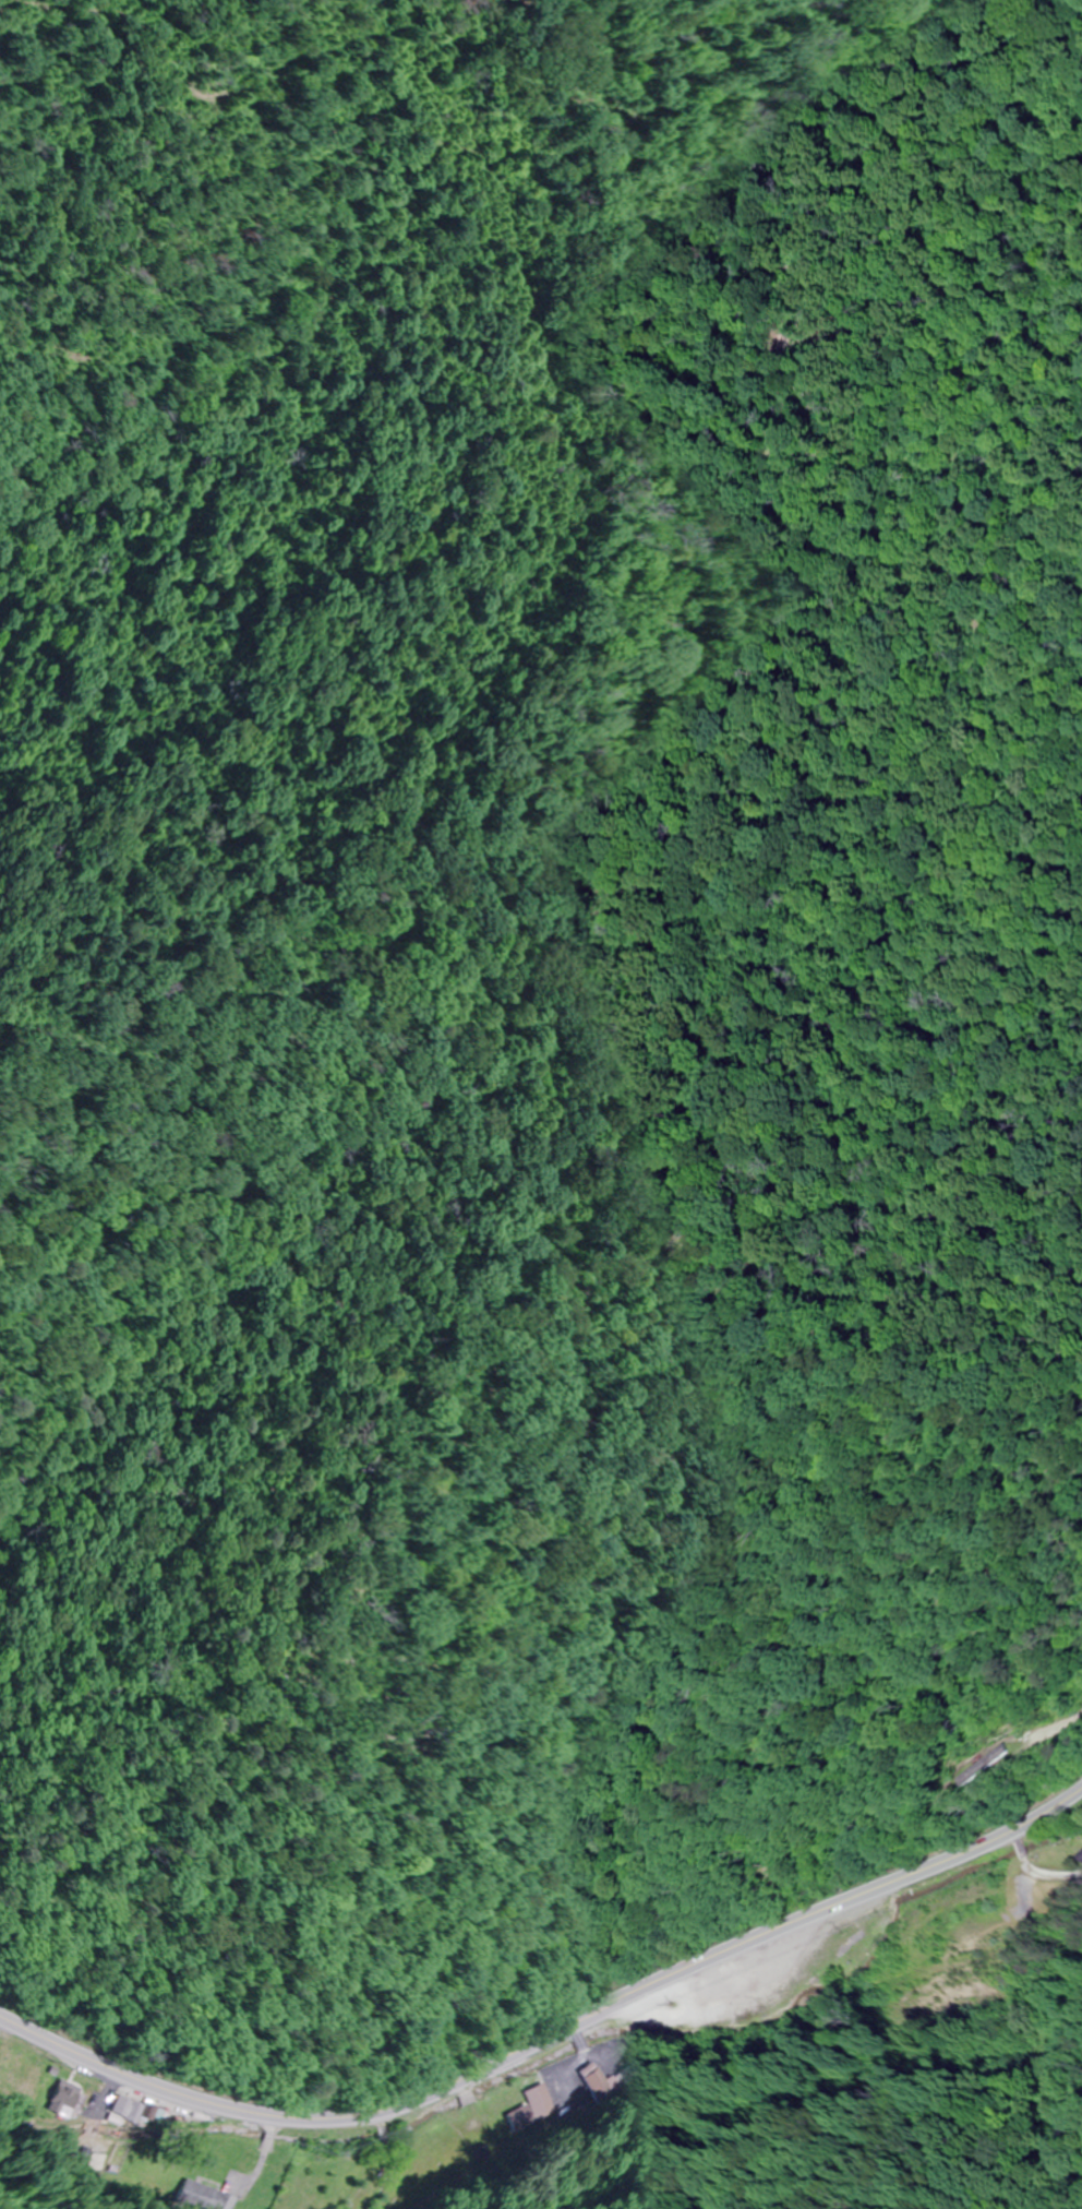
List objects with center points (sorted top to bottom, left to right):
building: (991, 1767)
road: (550, 2034)
building: (617, 2078)
building: (587, 2080)
building: (59, 2098)
building: (120, 2110)
building: (204, 2198)

